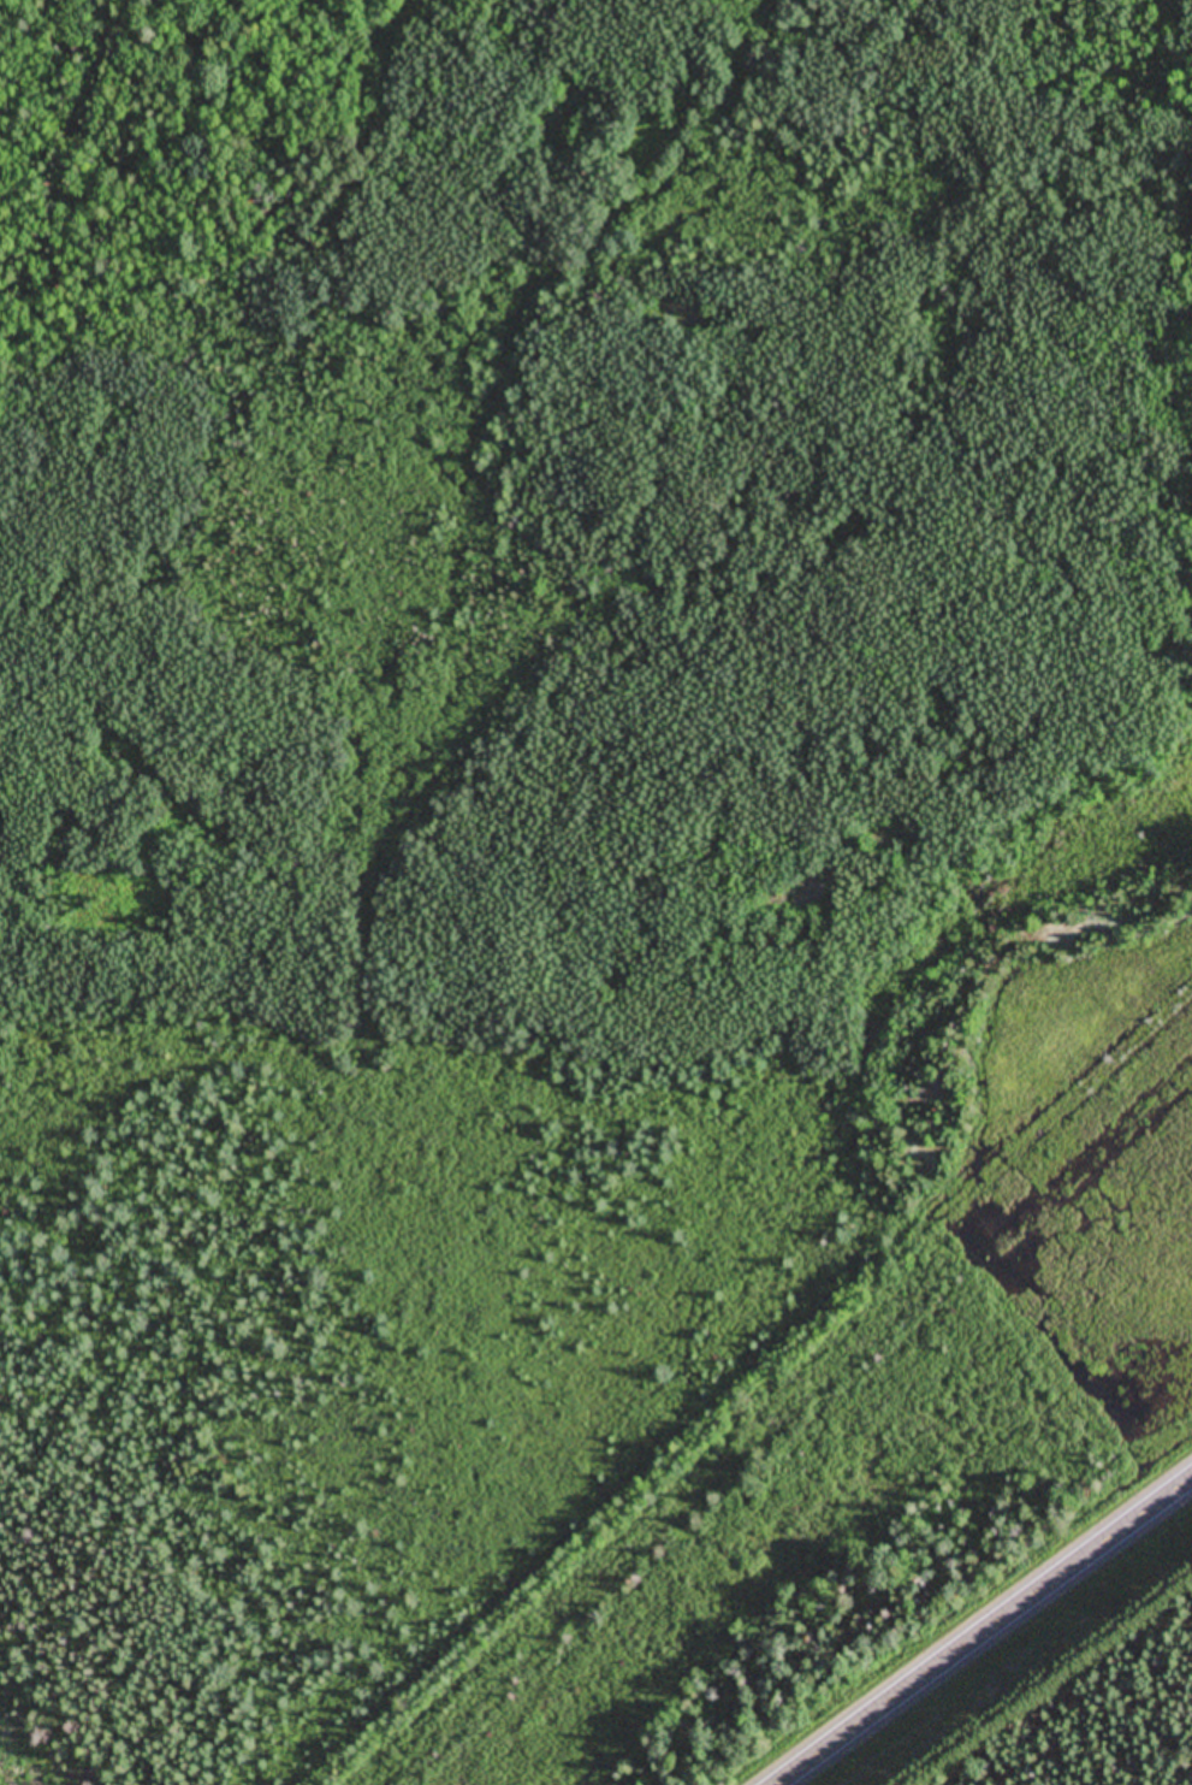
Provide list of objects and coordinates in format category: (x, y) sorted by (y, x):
road: (985, 1632)

